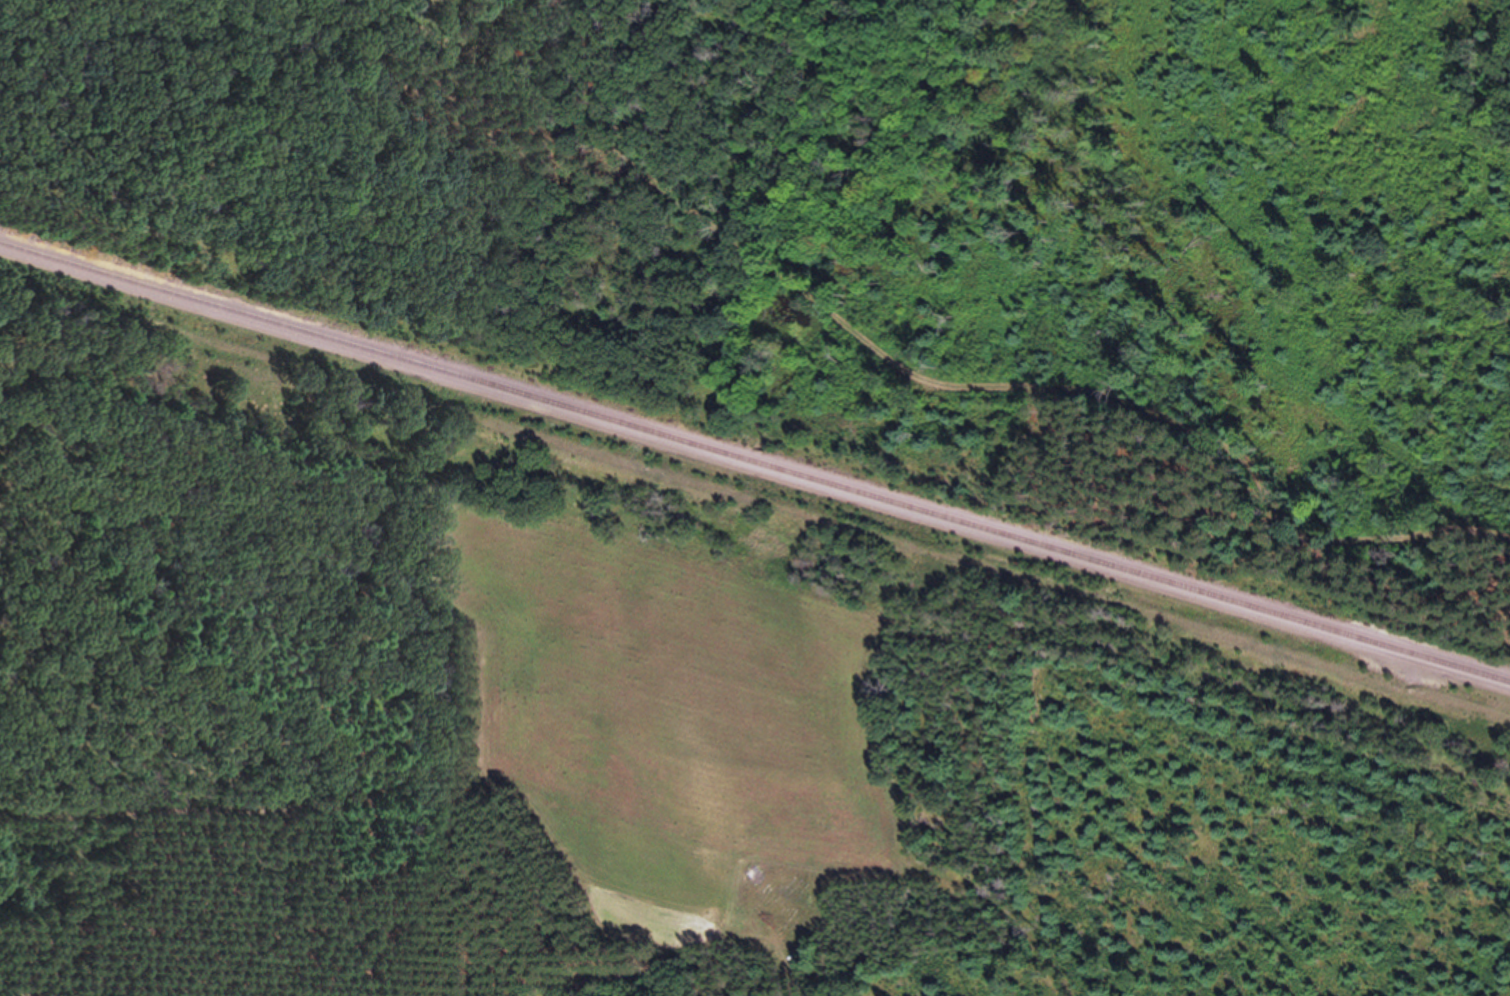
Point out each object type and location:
park: (1167, 150)
railway: (755, 461)

